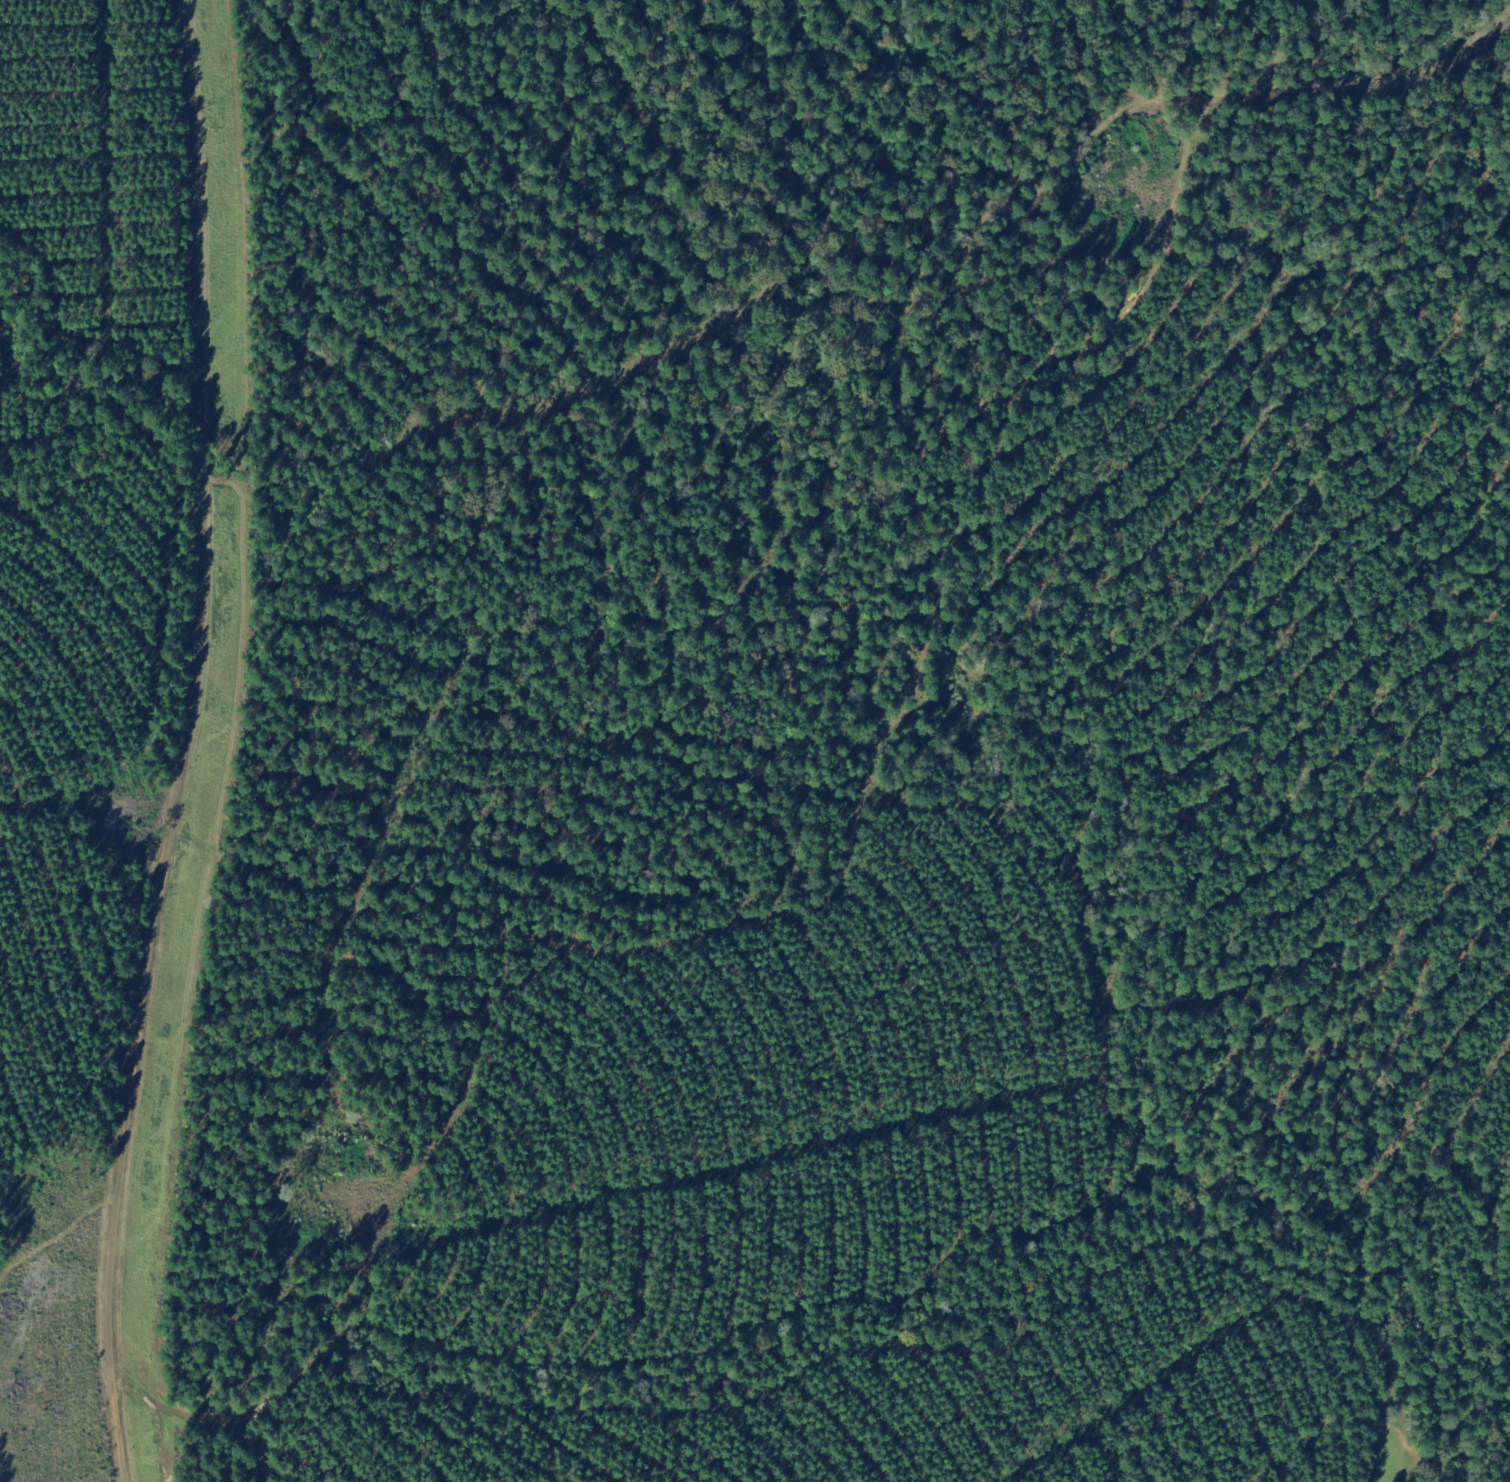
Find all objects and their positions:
road: (186, 742)

